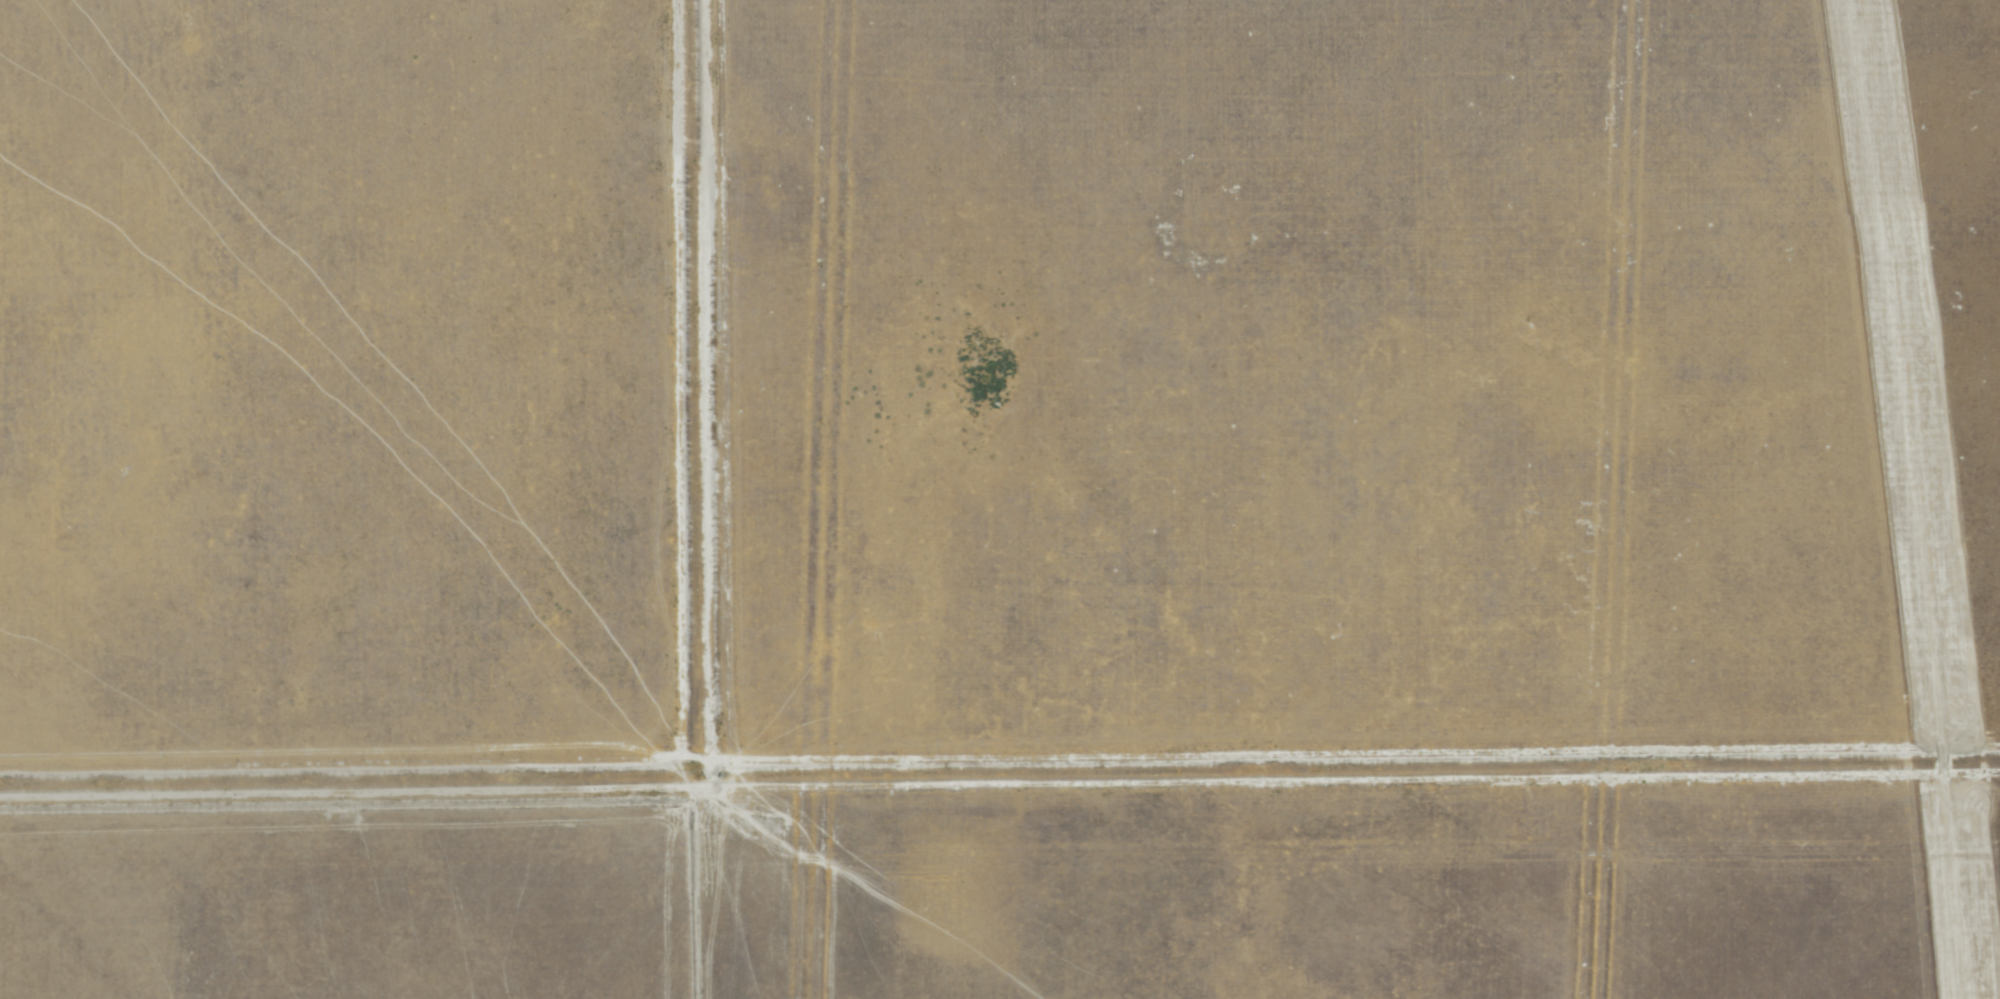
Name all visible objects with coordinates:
crop: (929, 435)
railway: (1919, 499)
railway: (1929, 499)

